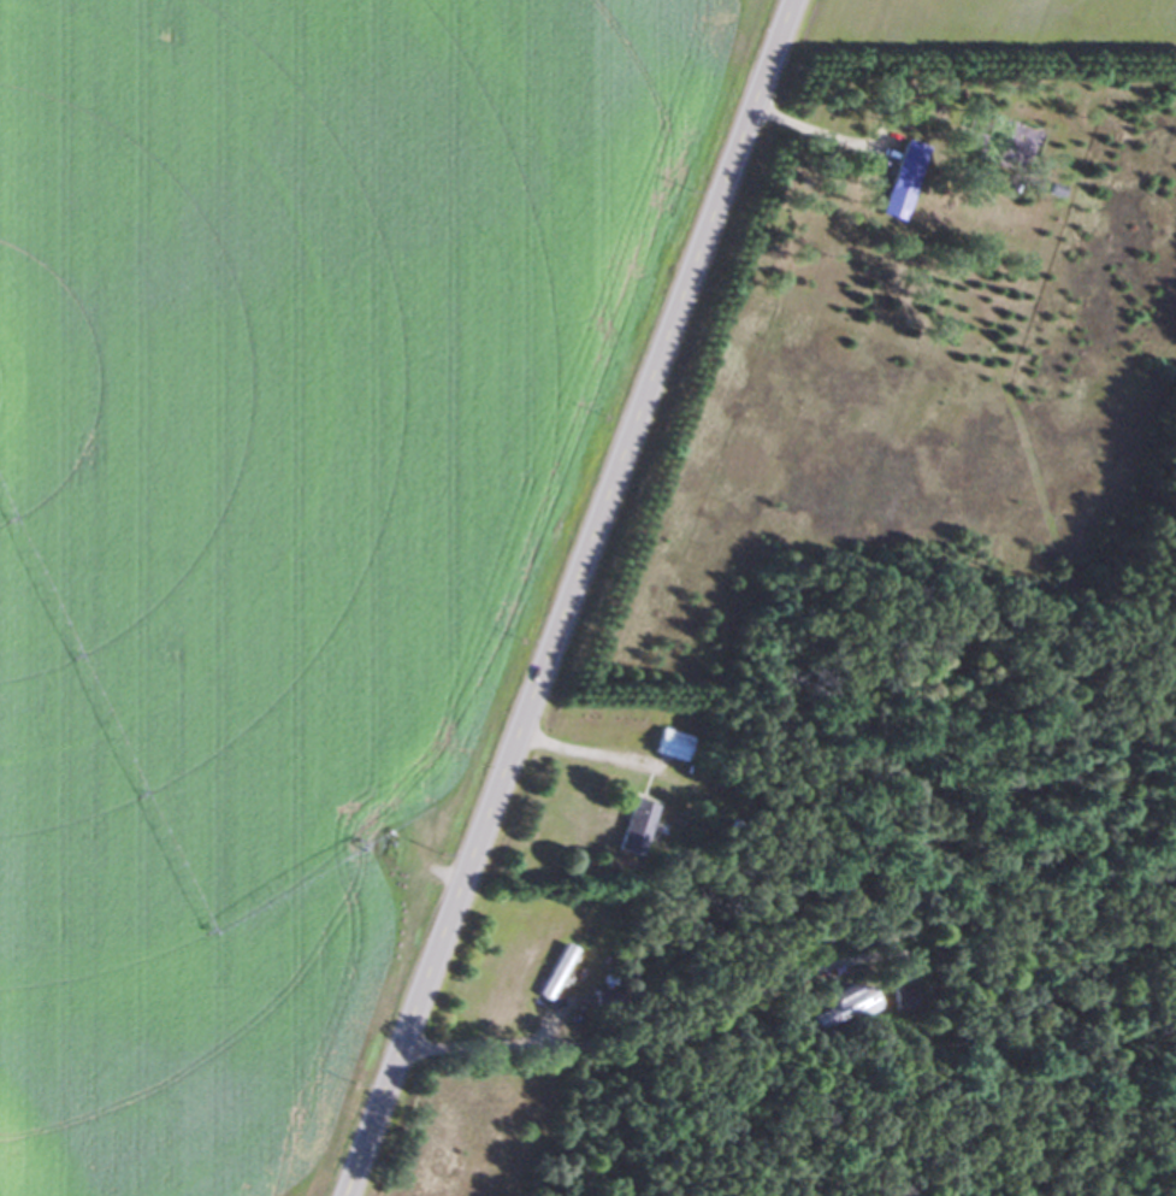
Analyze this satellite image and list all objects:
road: (810, 130)
building: (898, 181)
road: (565, 597)
building: (667, 743)
road: (585, 748)
building: (631, 826)
building: (551, 971)
building: (904, 996)
building: (839, 1003)
road: (658, 1038)

